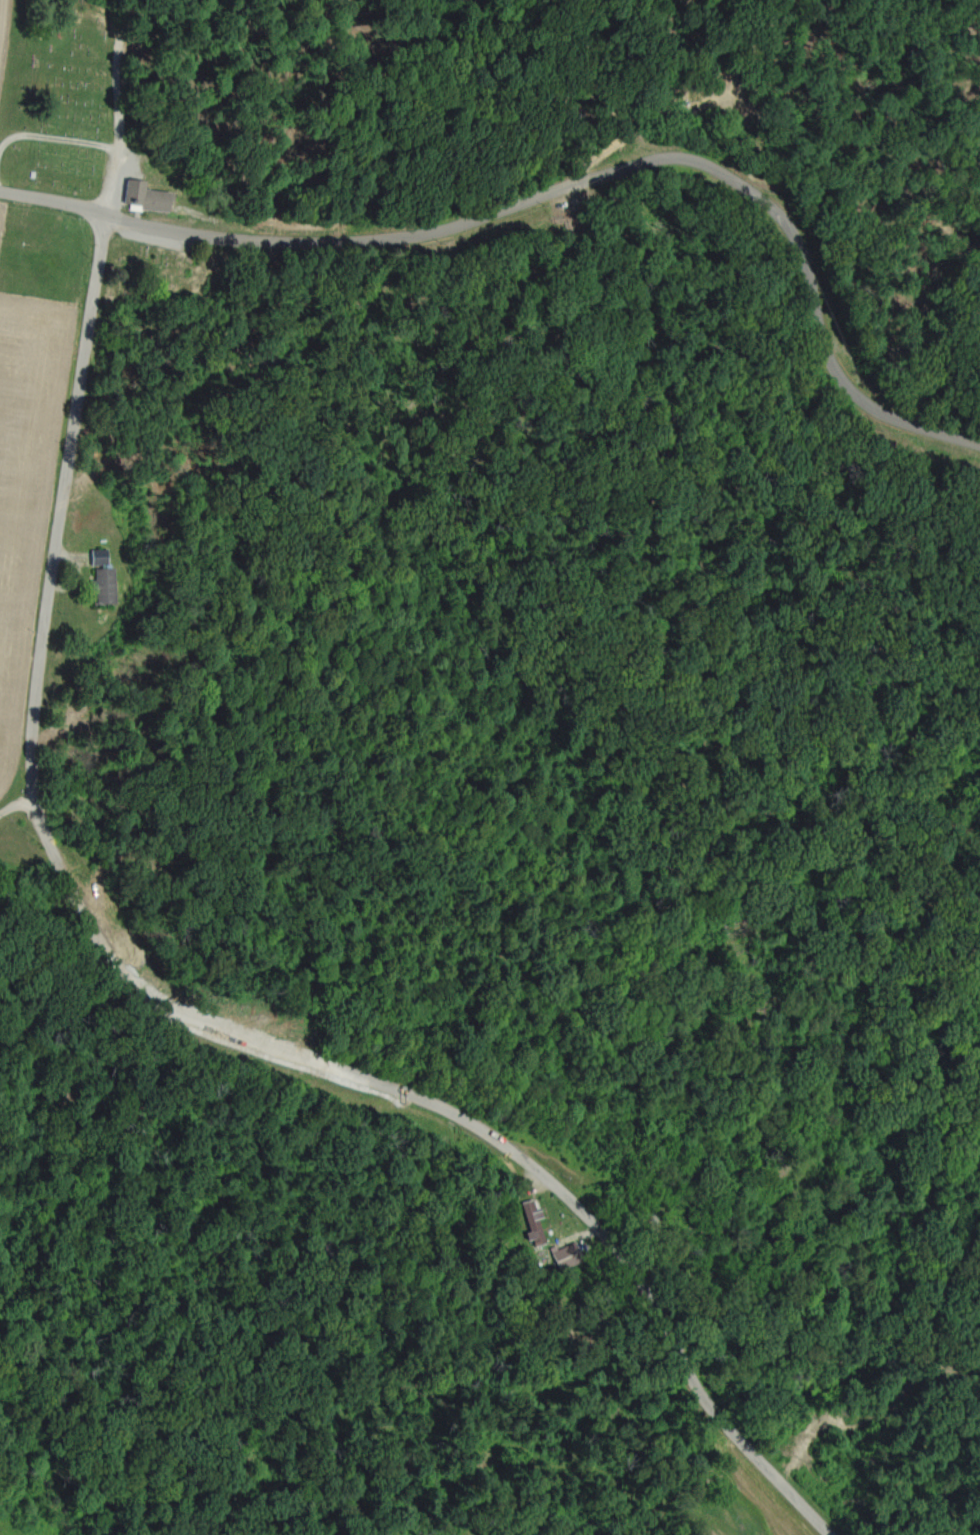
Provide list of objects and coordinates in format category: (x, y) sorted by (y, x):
road: (608, 175)
road: (7, 195)
building: (141, 196)
road: (54, 204)
building: (94, 555)
building: (99, 584)
road: (14, 805)
road: (176, 1023)
building: (529, 1221)
building: (563, 1255)

